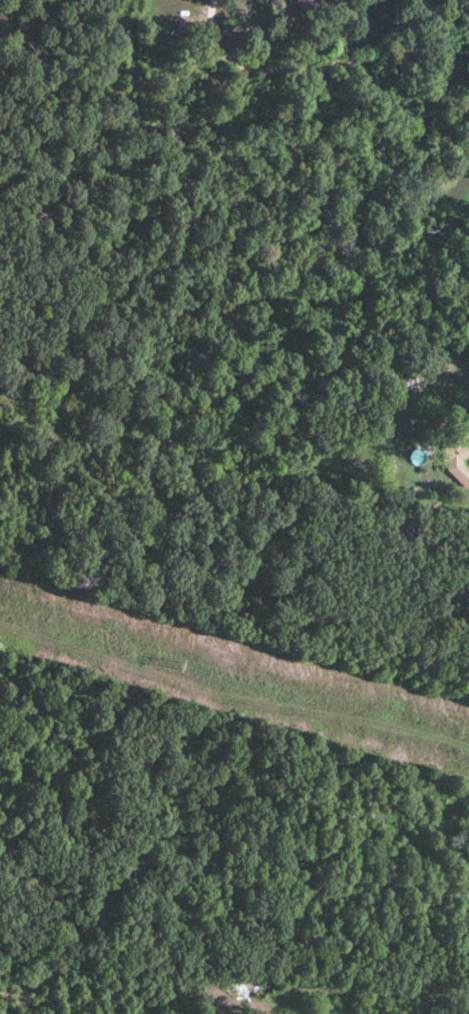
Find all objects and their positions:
building: (306, 7)
road: (327, 67)

